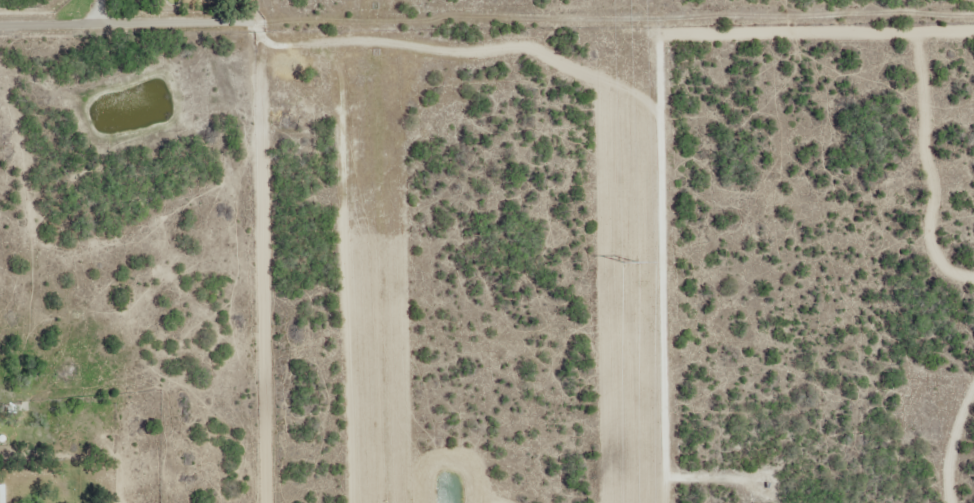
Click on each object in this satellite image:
road: (54, 15)
road: (616, 202)
power tower: (633, 261)

